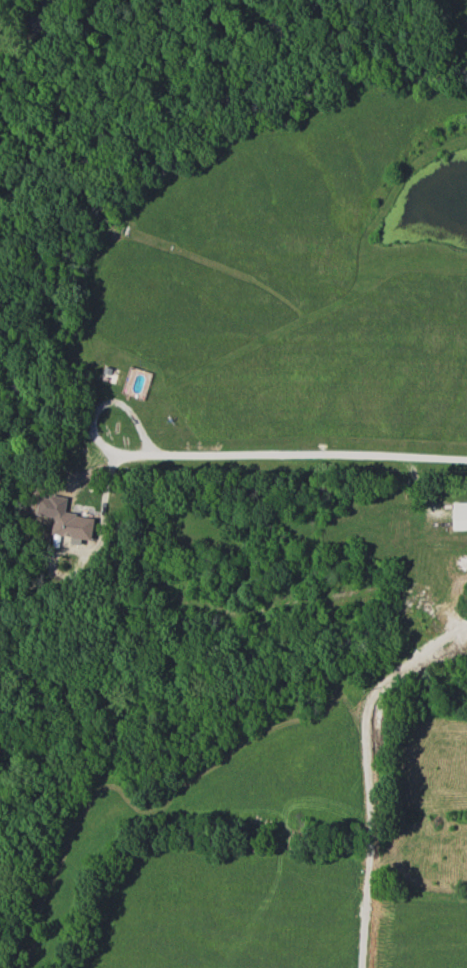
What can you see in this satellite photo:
road: (235, 455)
building: (459, 516)
building: (73, 527)
road: (365, 772)

